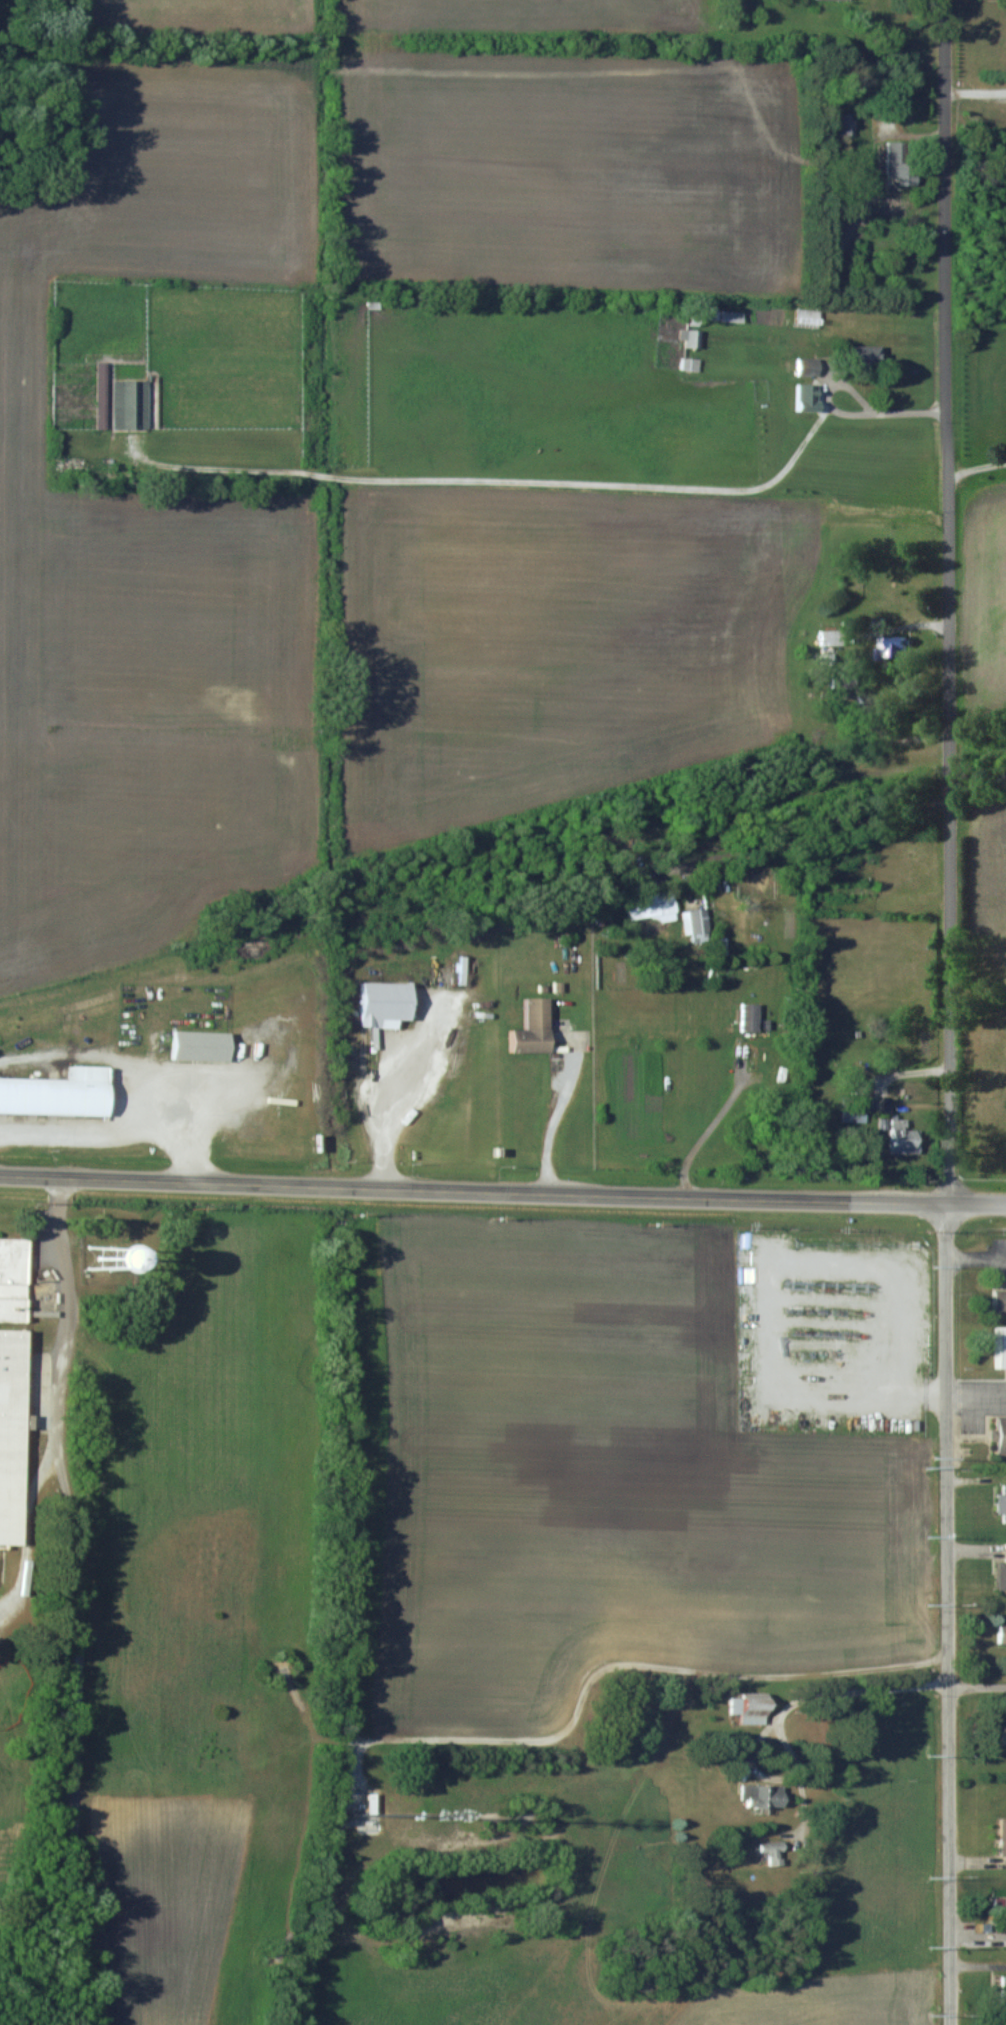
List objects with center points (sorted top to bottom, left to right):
building: (850, 124)
building: (898, 169)
building: (721, 316)
building: (690, 339)
building: (859, 357)
building: (689, 364)
building: (805, 367)
building: (128, 405)
road: (555, 480)
building: (826, 638)
building: (891, 648)
building: (847, 890)
building: (652, 907)
building: (694, 924)
building: (390, 1005)
road: (951, 1012)
building: (747, 1017)
building: (527, 1028)
building: (203, 1046)
building: (57, 1097)
building: (900, 1137)
road: (502, 1190)
water tower: (104, 1264)
building: (12, 1279)
building: (997, 1301)
building: (1004, 1349)
building: (9, 1433)
building: (997, 1434)
building: (1000, 1503)
building: (1001, 1570)
road: (66, 1600)
building: (1000, 1634)
road: (977, 1687)
building: (745, 1708)
building: (1002, 1734)
building: (760, 1795)
building: (1001, 1838)
building: (770, 1855)
building: (1000, 1915)
building: (1002, 1993)

